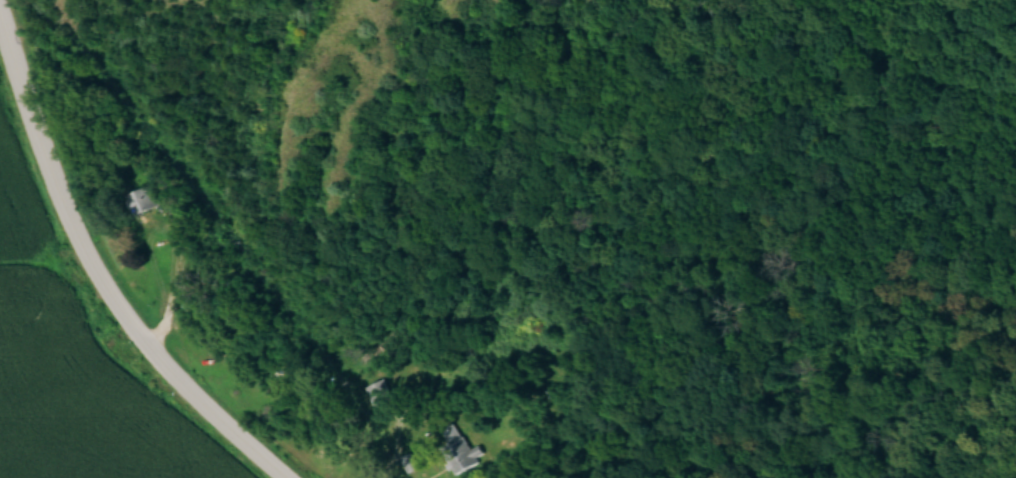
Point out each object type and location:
building: (139, 198)
road: (105, 295)
building: (376, 390)
building: (454, 449)

